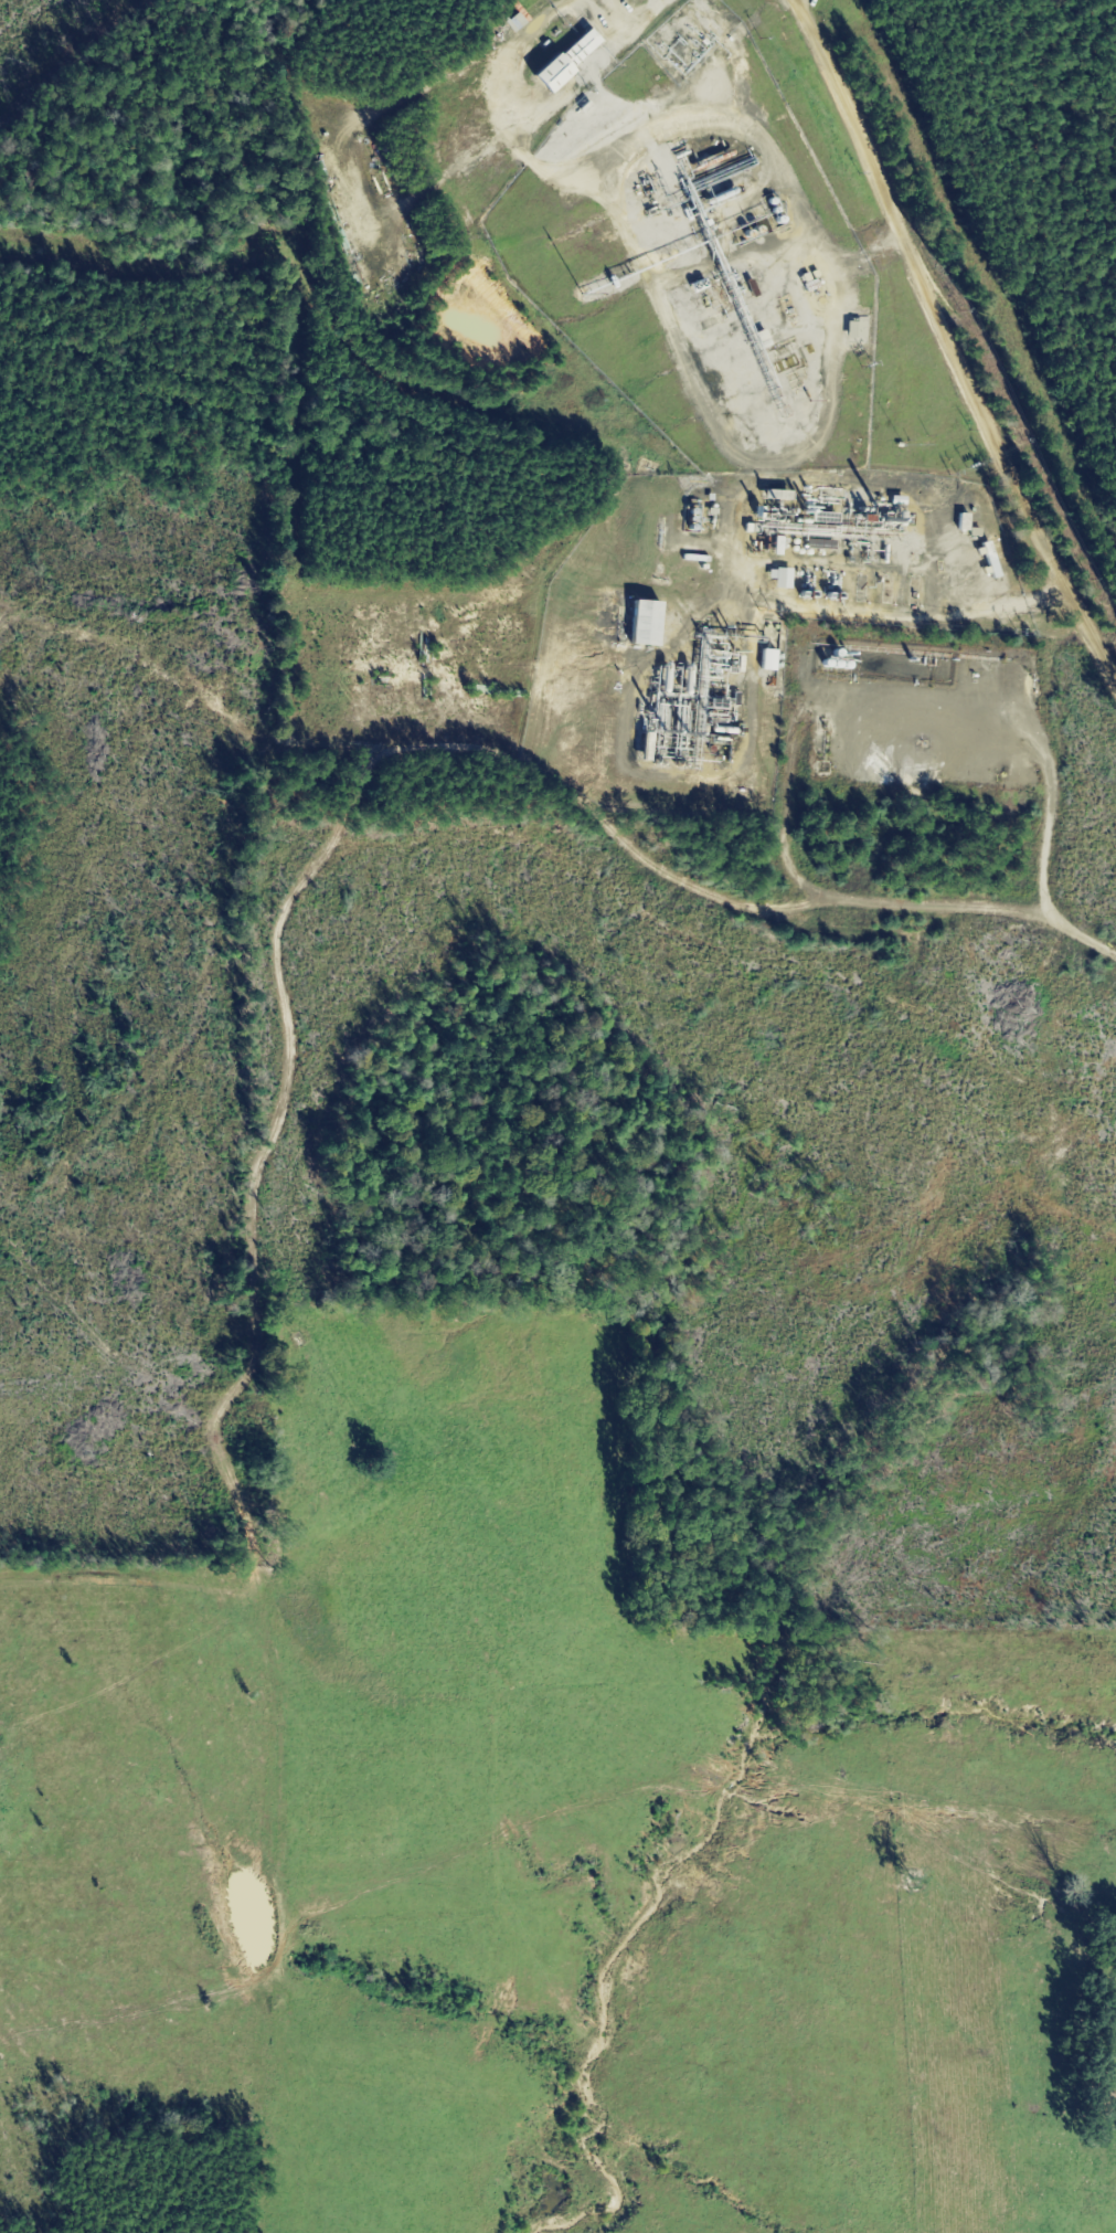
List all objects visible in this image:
building: (512, 21)
building: (562, 61)
building: (851, 328)
building: (712, 335)
road: (939, 374)
building: (987, 561)
building: (640, 623)
road: (414, 758)

